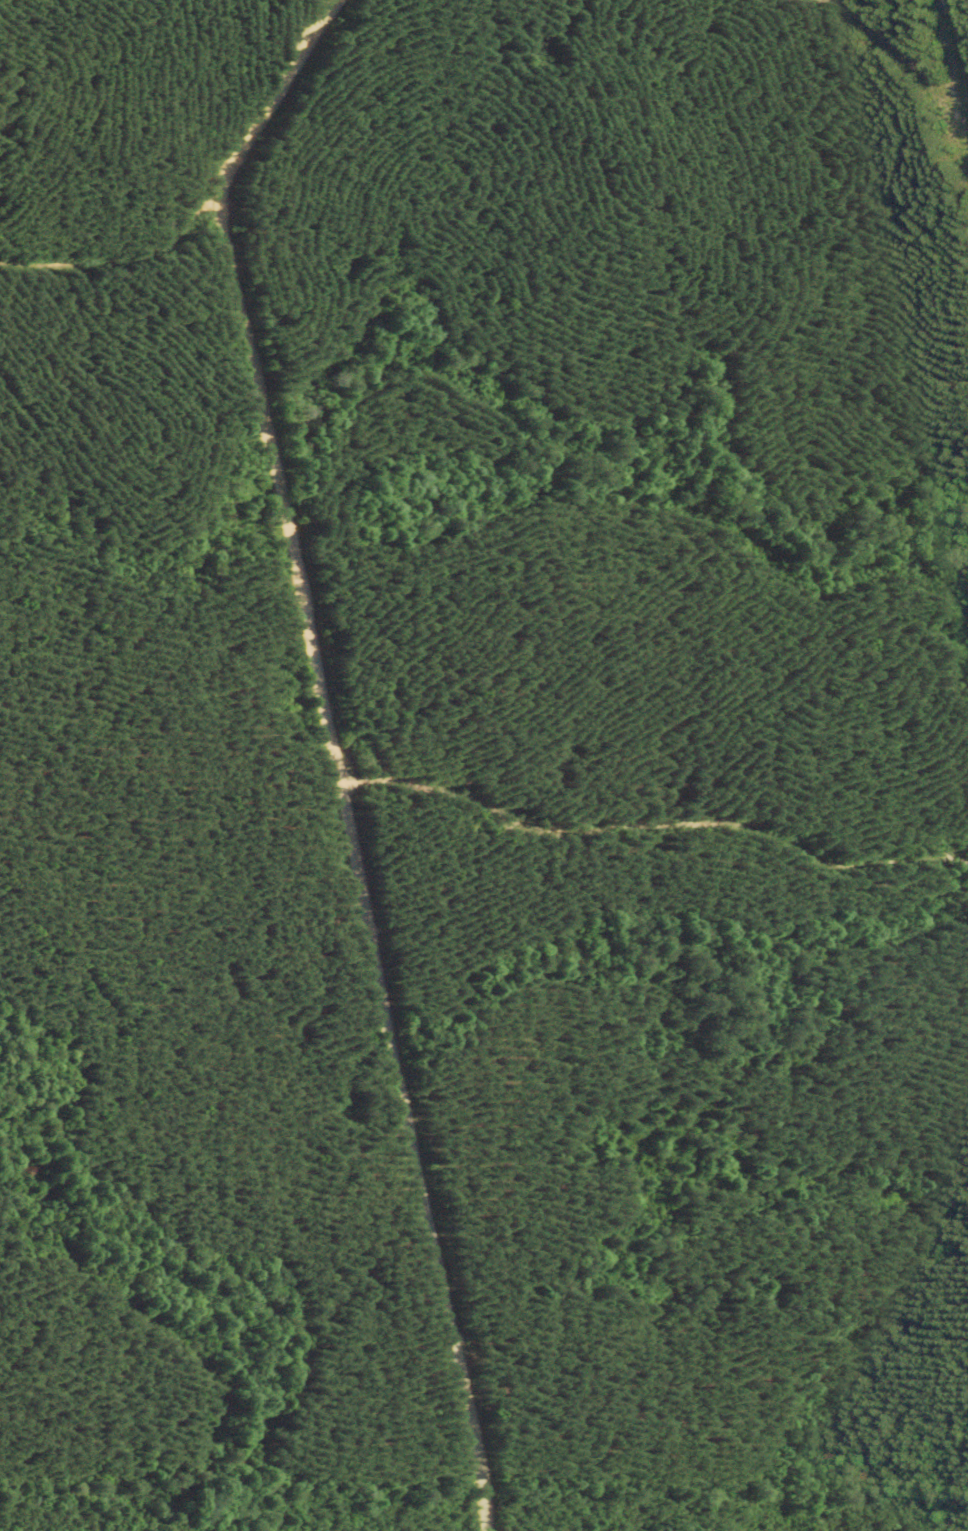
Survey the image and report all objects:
road: (341, 749)

